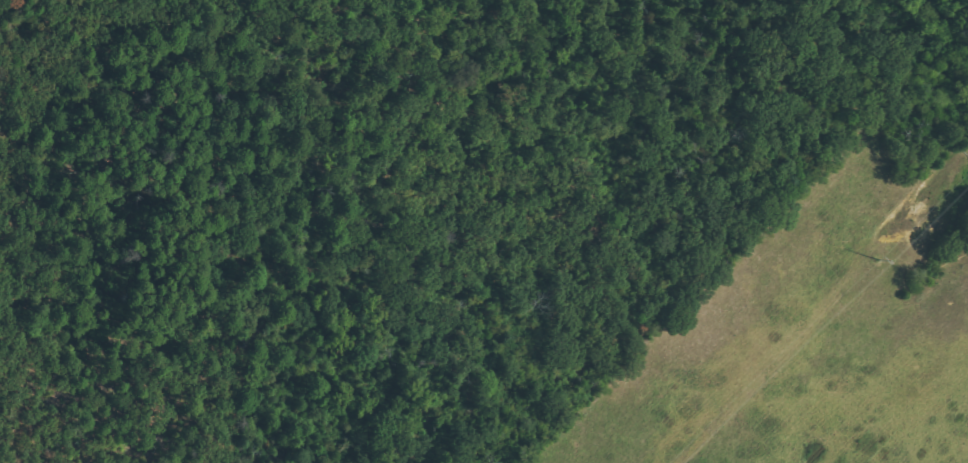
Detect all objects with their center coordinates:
power tower: (878, 260)

